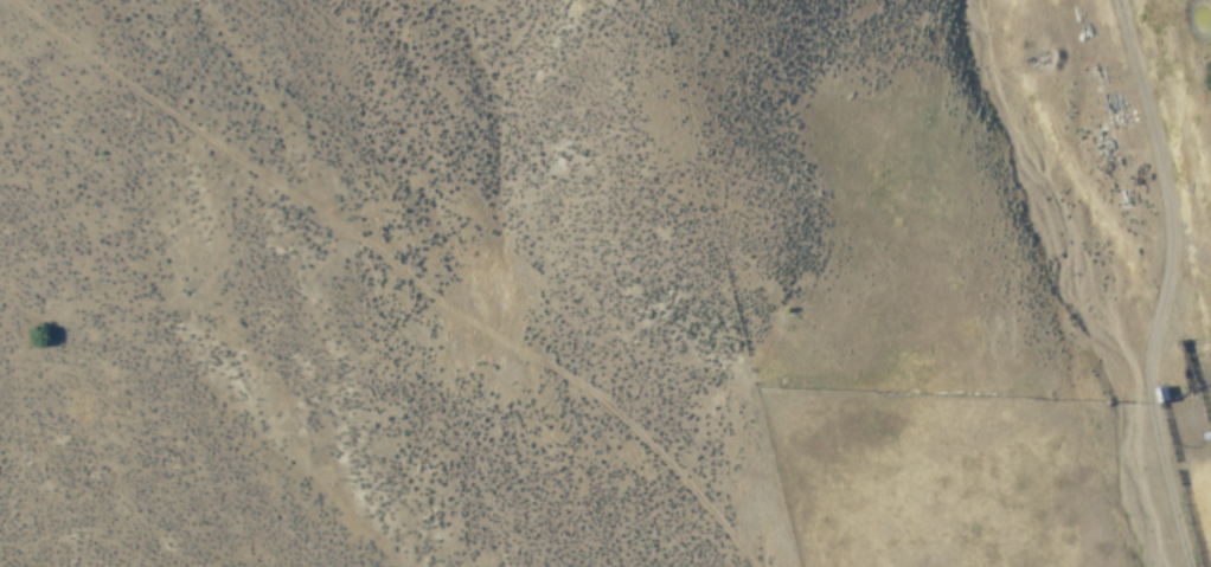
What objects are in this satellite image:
road: (1206, 64)
road: (1152, 384)

